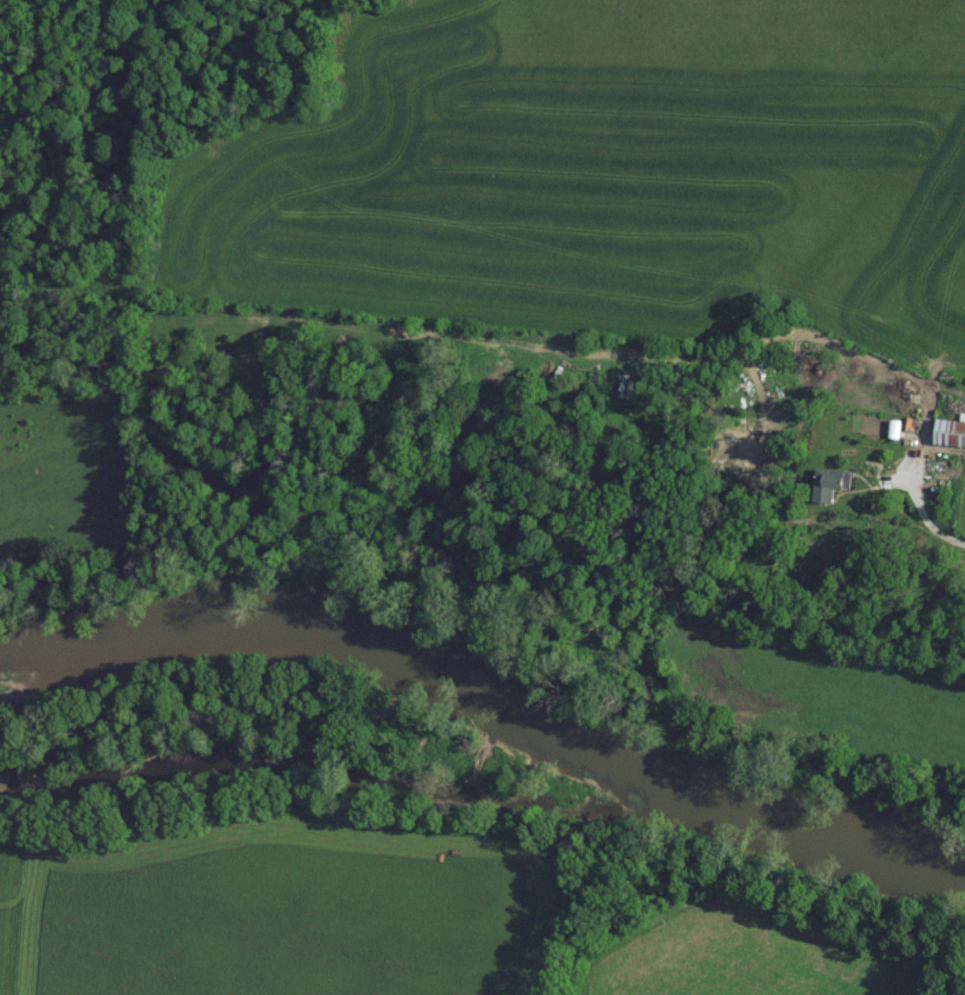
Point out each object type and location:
road: (927, 385)
building: (950, 431)
building: (829, 482)
river: (487, 704)

